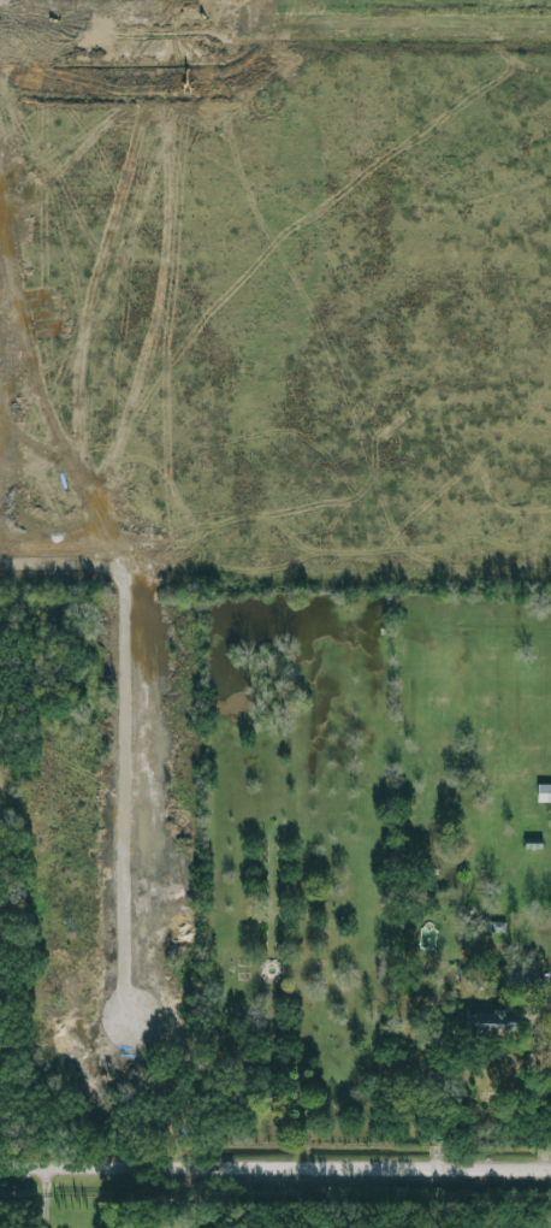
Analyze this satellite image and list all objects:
road: (177, 10)
road: (88, 20)
road: (363, 23)
building: (543, 792)
building: (522, 978)
building: (490, 1021)
road: (275, 1165)

